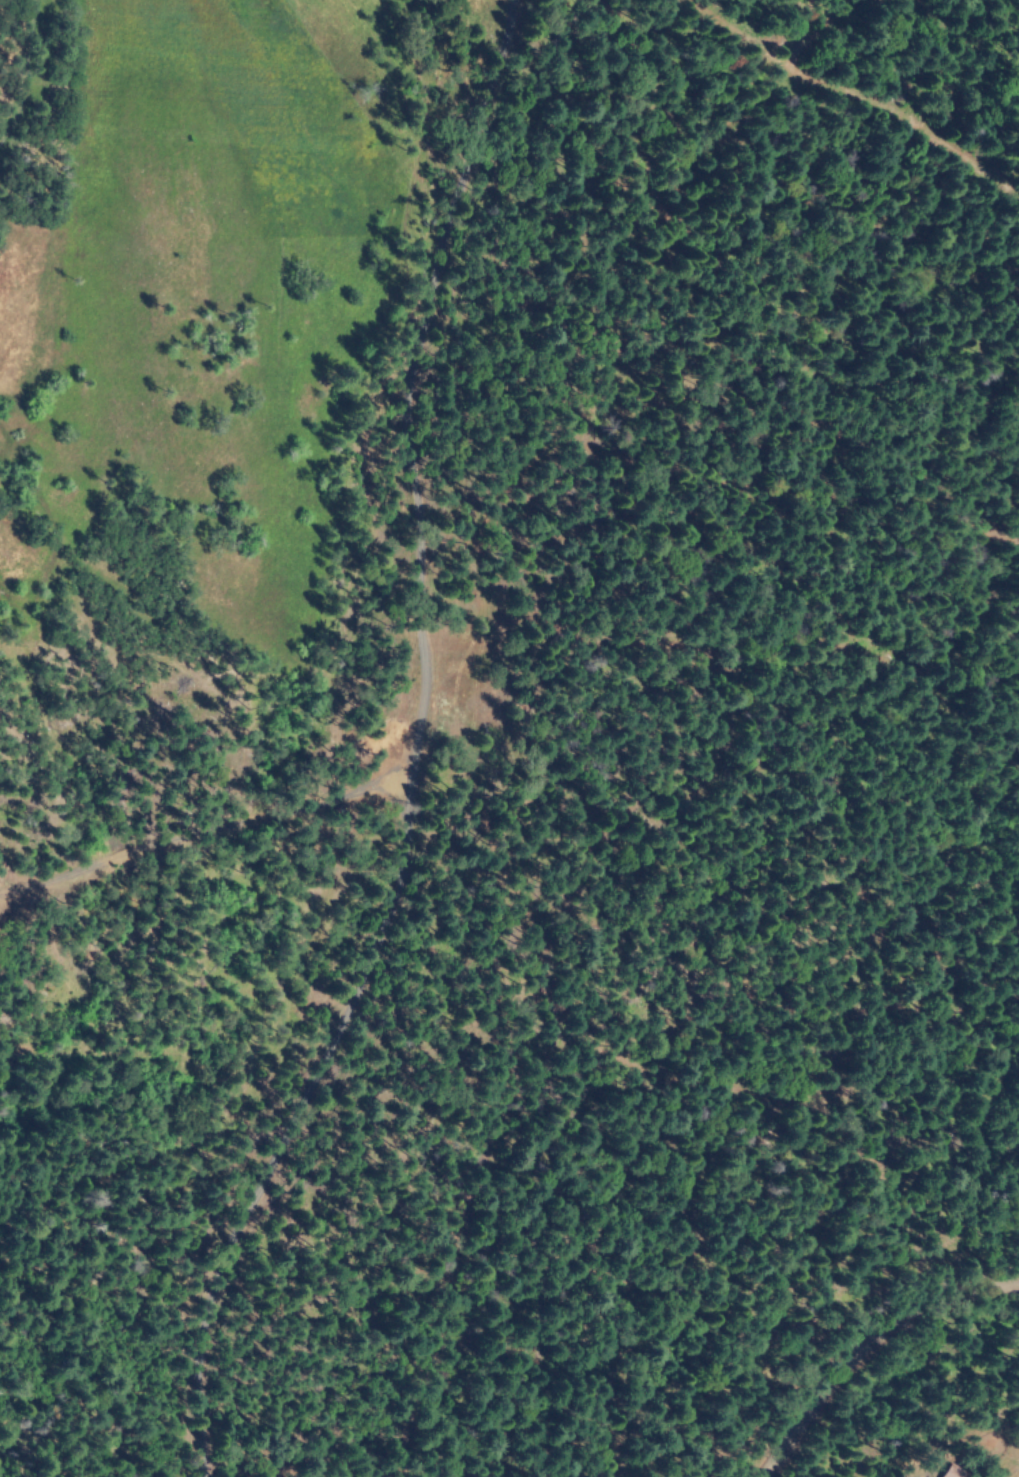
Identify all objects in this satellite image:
road: (503, 738)
road: (393, 913)
road: (865, 1344)

